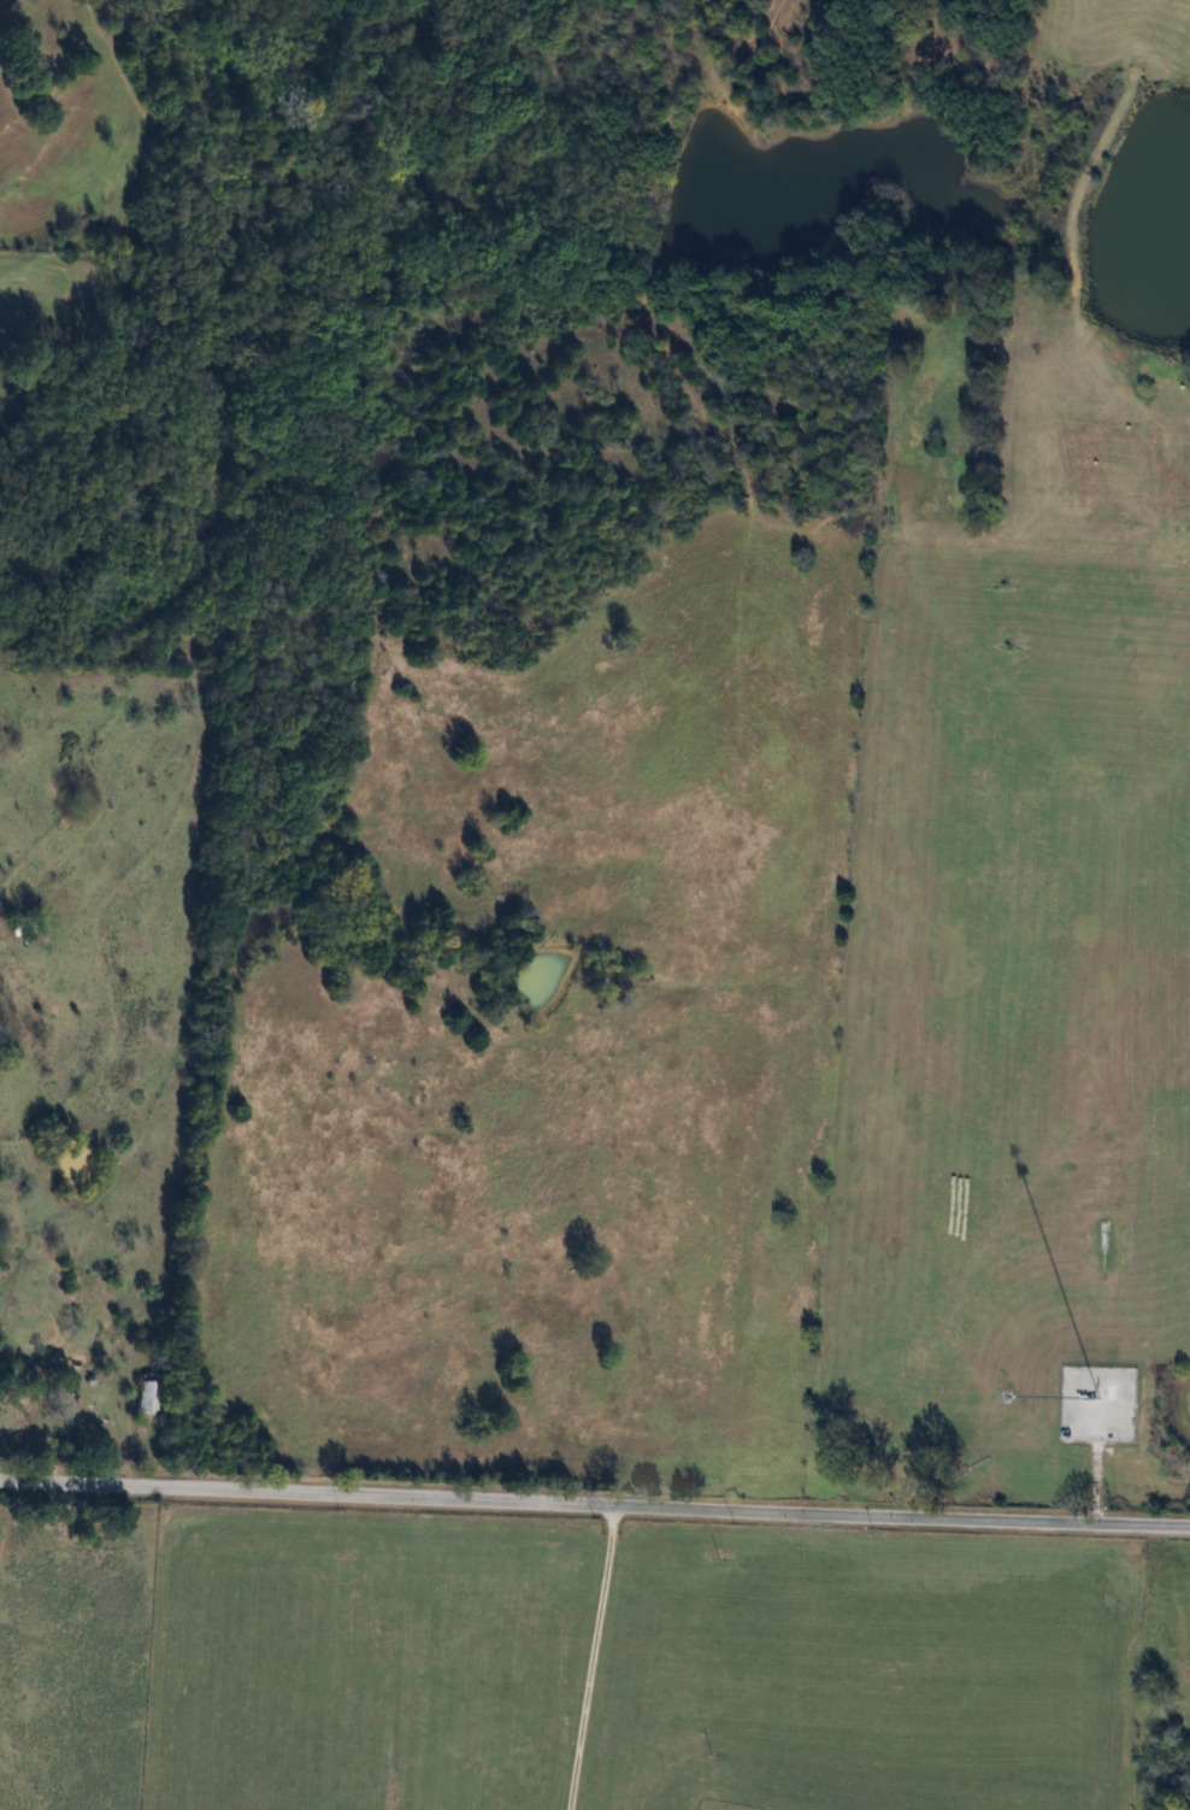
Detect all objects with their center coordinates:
building: (22, 925)
building: (6, 1375)
building: (148, 1394)
road: (594, 1505)
road: (600, 1658)

